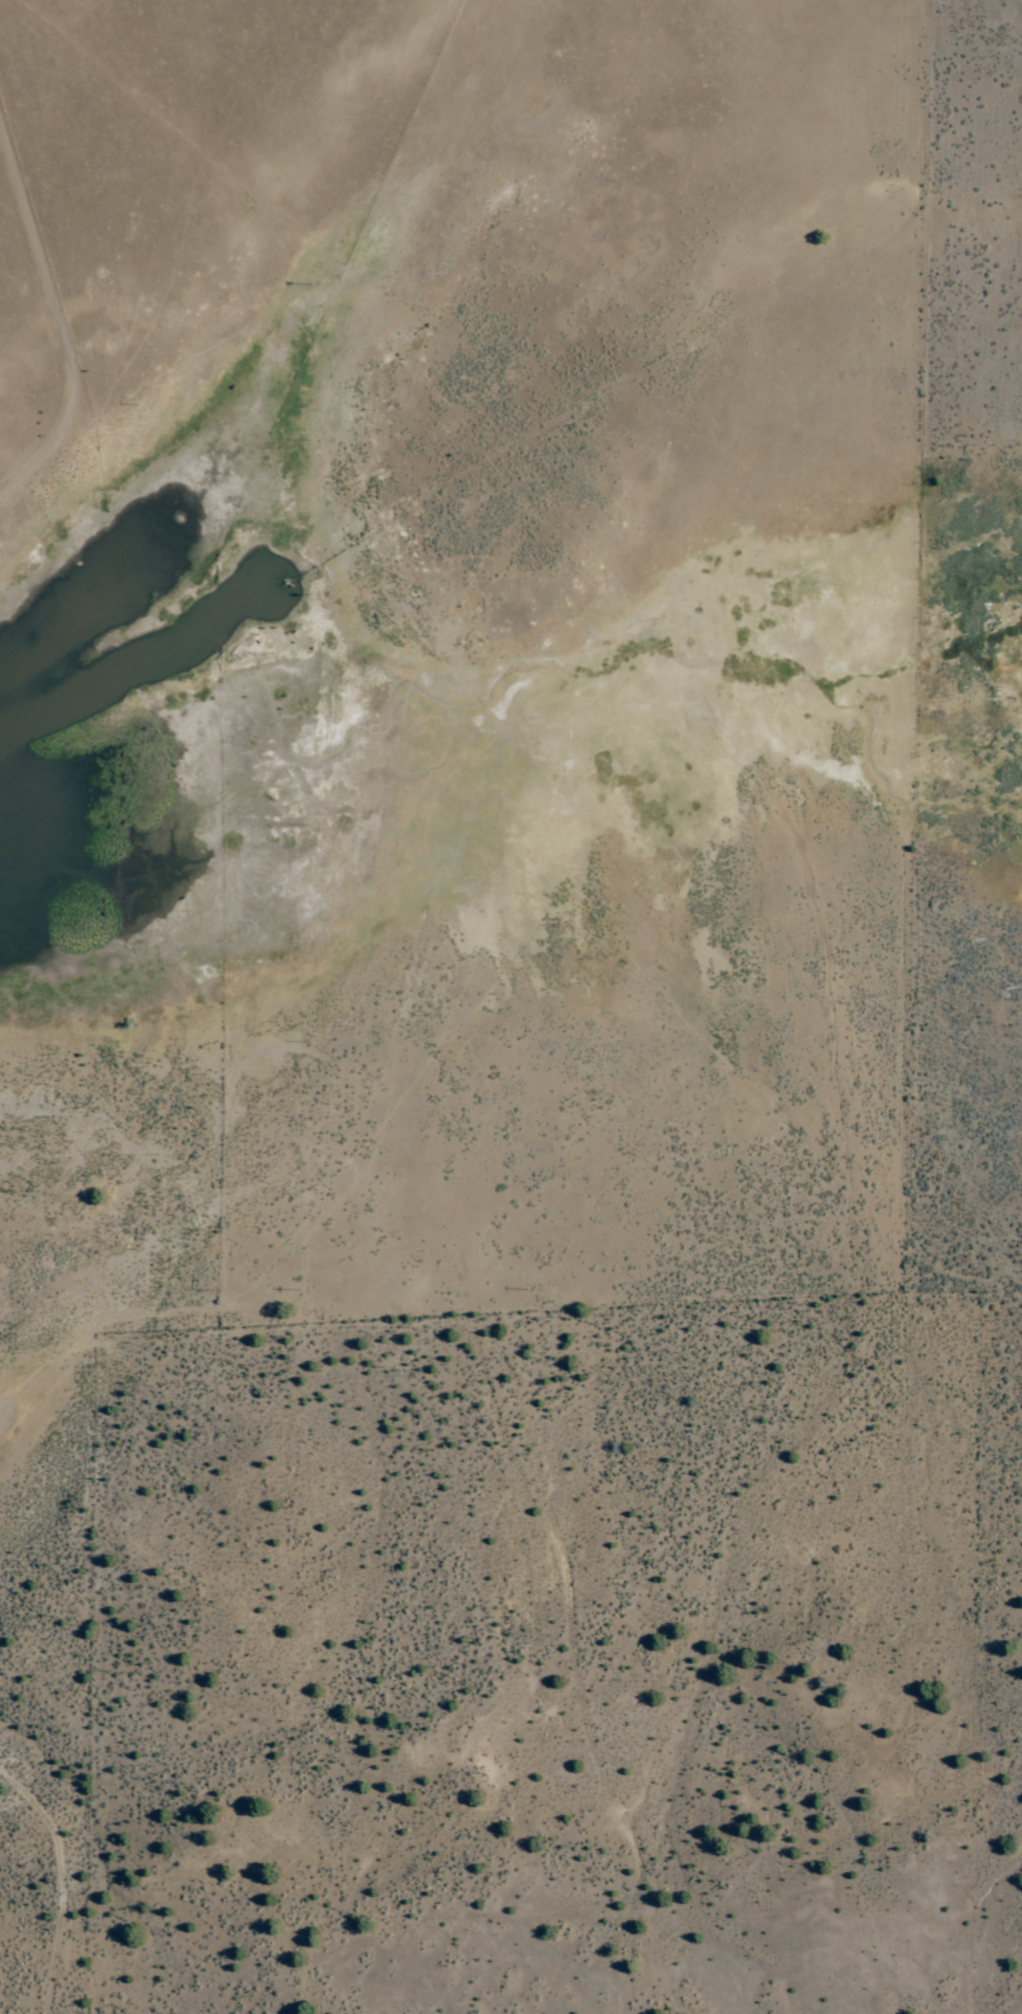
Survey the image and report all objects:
road: (59, 293)

